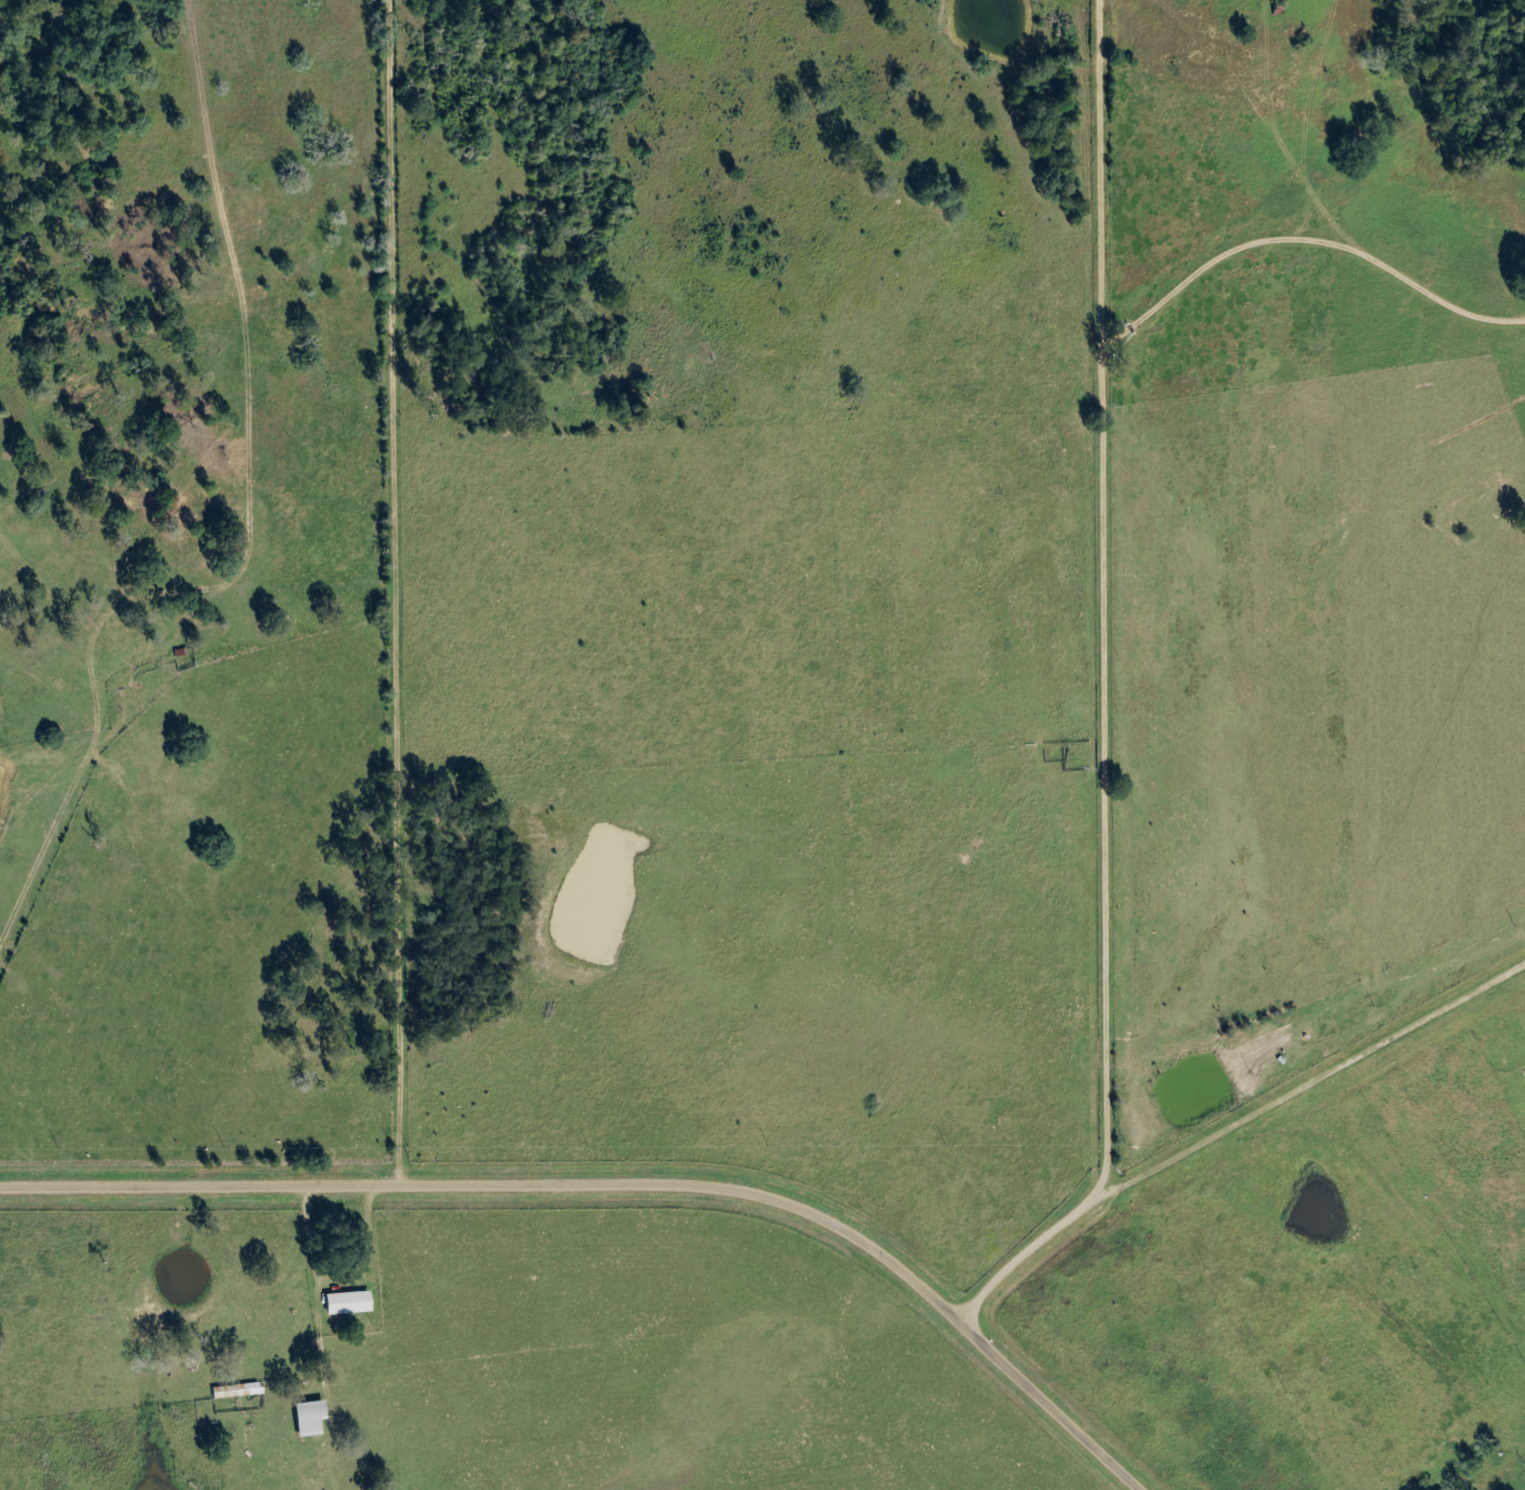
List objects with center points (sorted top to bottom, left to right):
road: (630, 1180)
building: (350, 1303)
building: (238, 1391)
building: (312, 1418)

